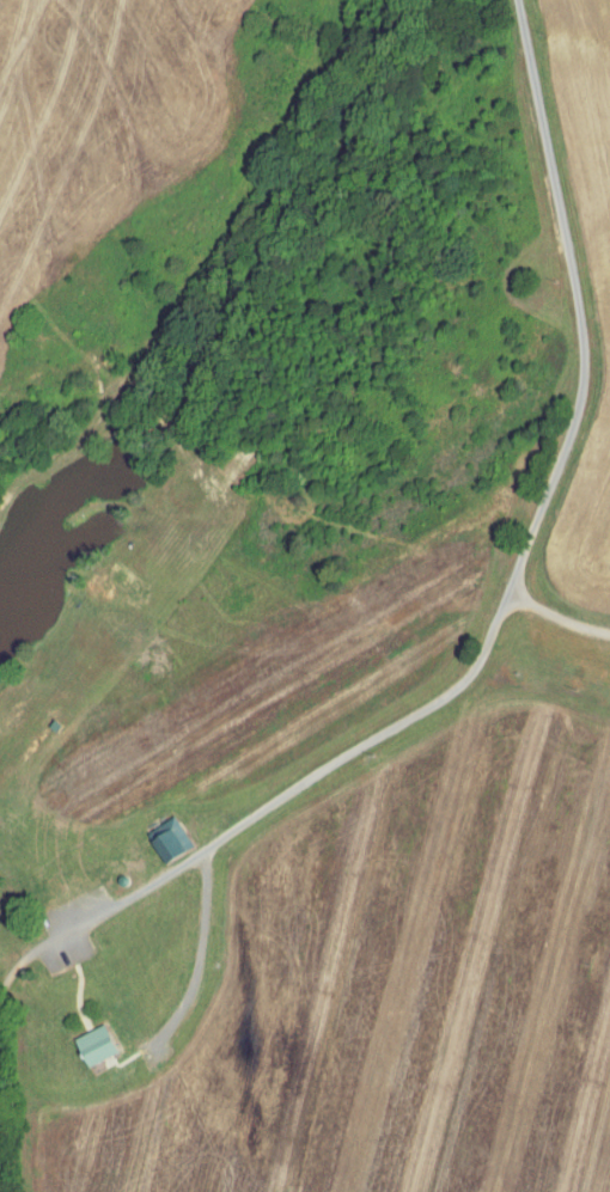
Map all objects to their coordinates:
road: (498, 588)
road: (554, 610)
building: (170, 837)
road: (200, 949)
road: (12, 968)
building: (97, 1043)

